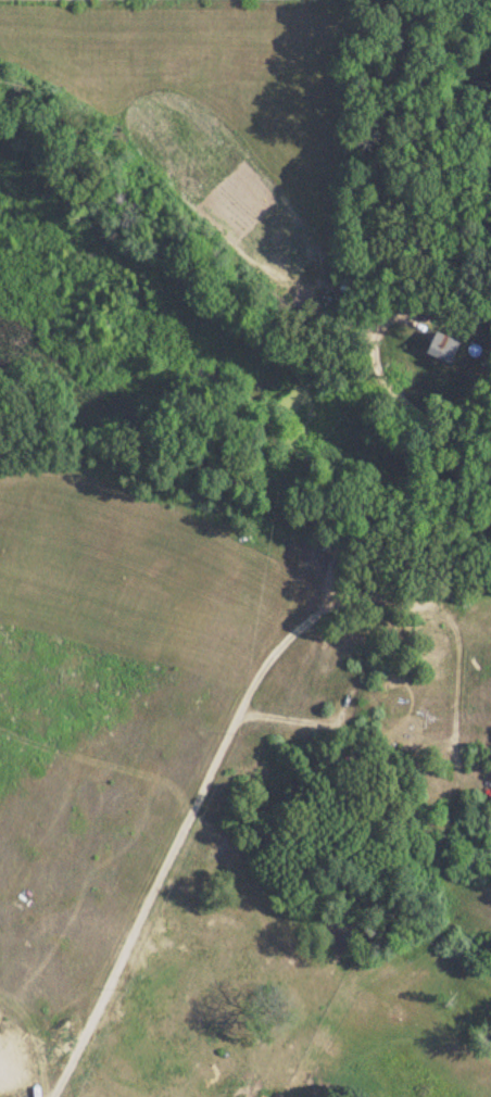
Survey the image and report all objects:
road: (247, 690)

